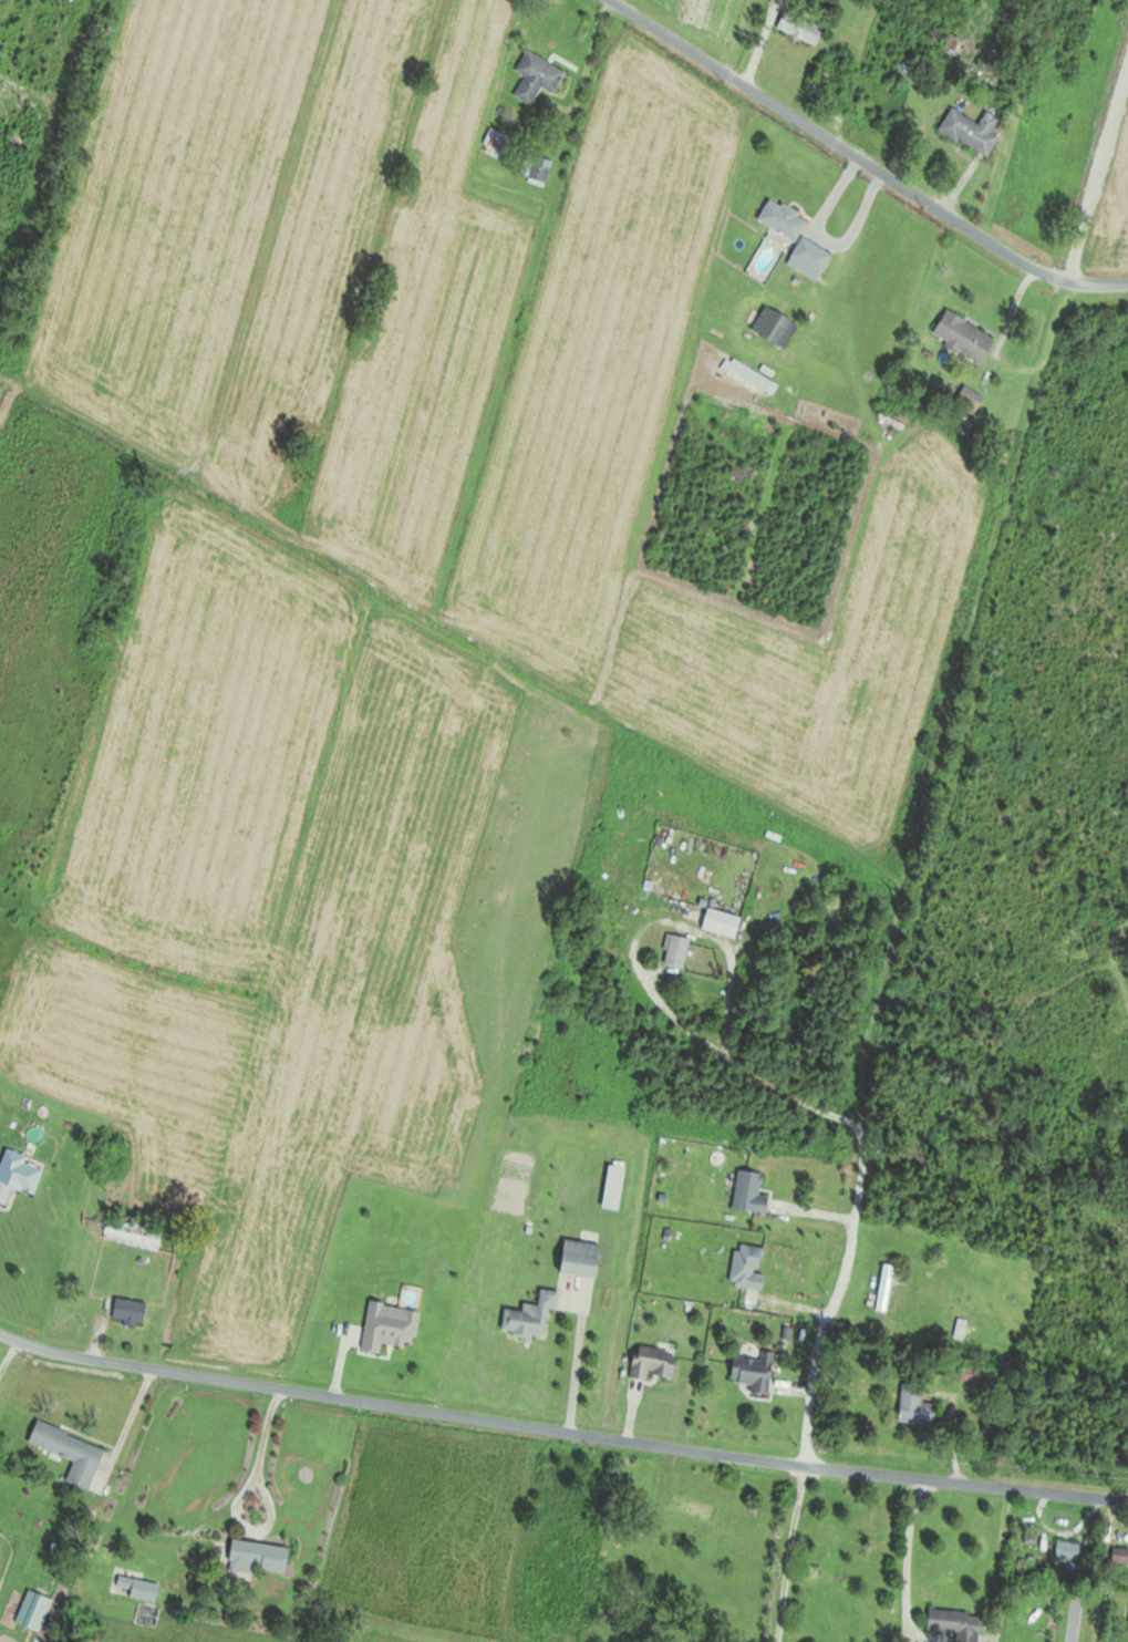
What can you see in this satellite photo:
building: (537, 76)
building: (824, 84)
building: (971, 131)
building: (498, 145)
road: (861, 161)
building: (536, 168)
road: (1100, 177)
building: (783, 219)
building: (809, 260)
building: (958, 339)
crop: (472, 368)
building: (722, 921)
building: (677, 950)
road: (749, 1070)
building: (17, 1174)
building: (613, 1187)
building: (133, 1232)
building: (582, 1258)
building: (747, 1267)
building: (880, 1289)
building: (130, 1310)
building: (530, 1316)
building: (390, 1325)
road: (4, 1344)
building: (654, 1362)
building: (752, 1367)
road: (832, 1378)
building: (910, 1407)
road: (560, 1431)
building: (71, 1453)
road: (238, 1498)
building: (689, 1508)
building: (1063, 1552)
building: (259, 1556)
building: (1118, 1559)
building: (137, 1588)
road: (1072, 1615)
building: (951, 1625)
building: (1126, 1625)
building: (550, 1633)

